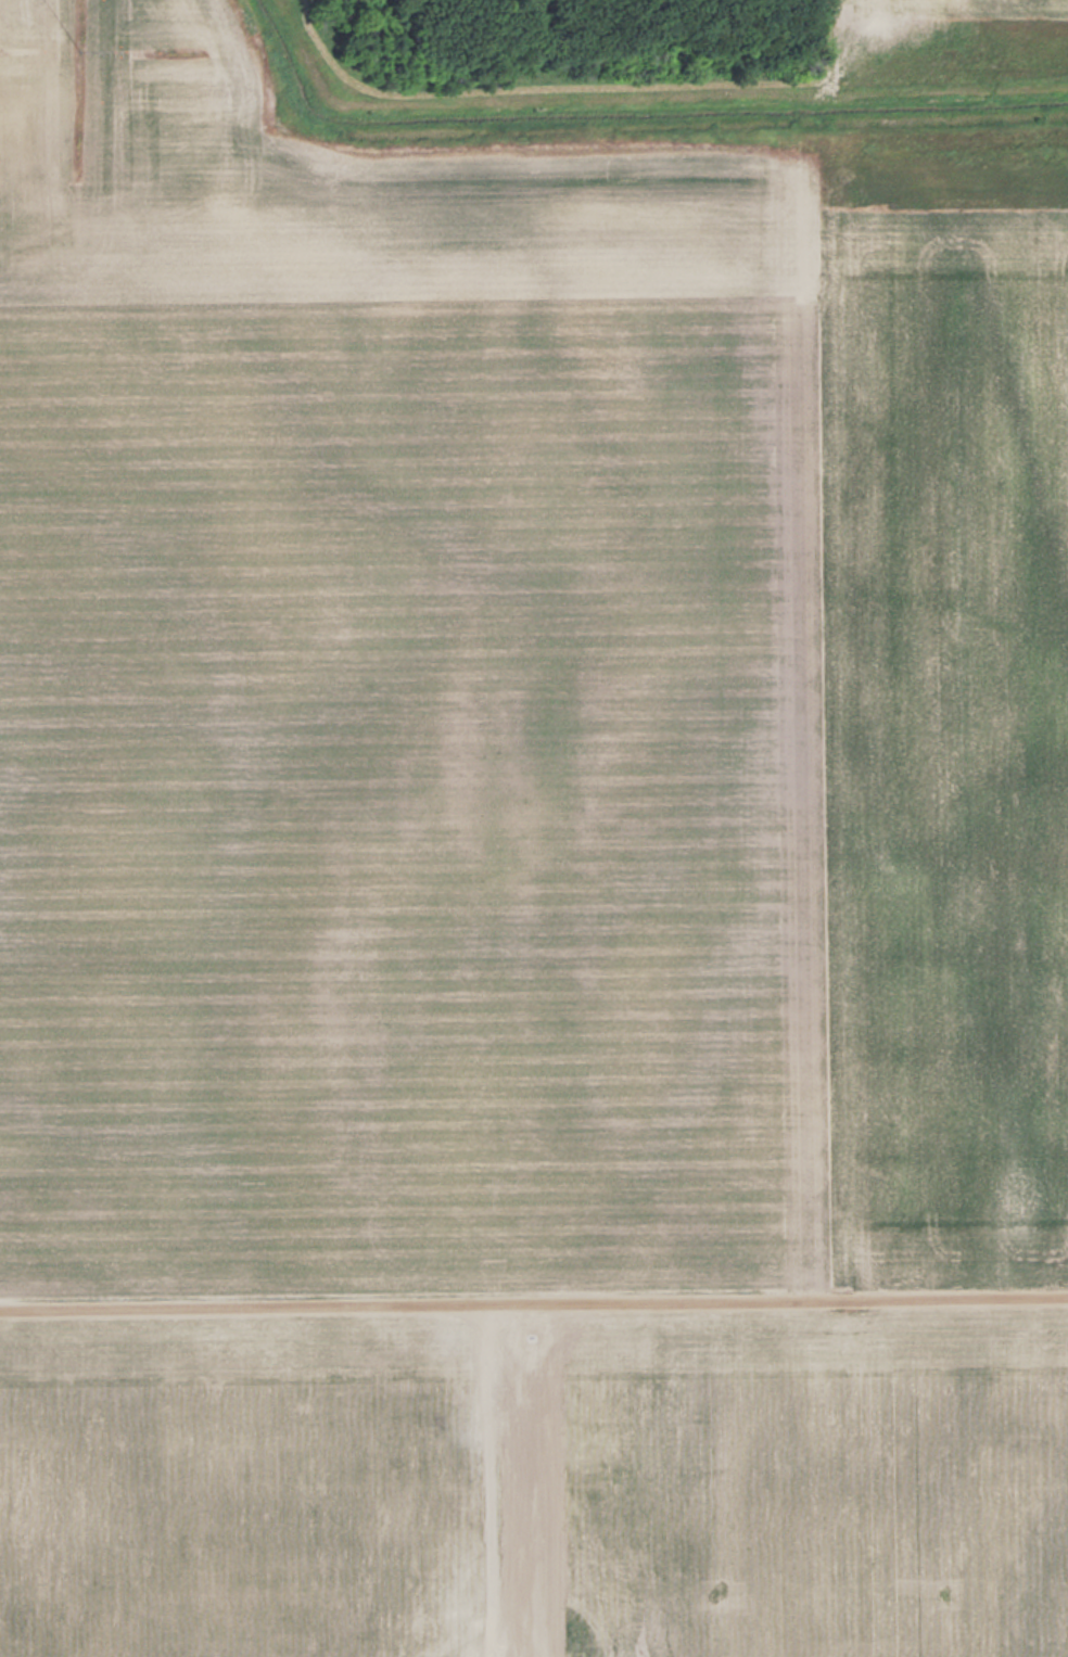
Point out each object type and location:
road: (533, 1309)

